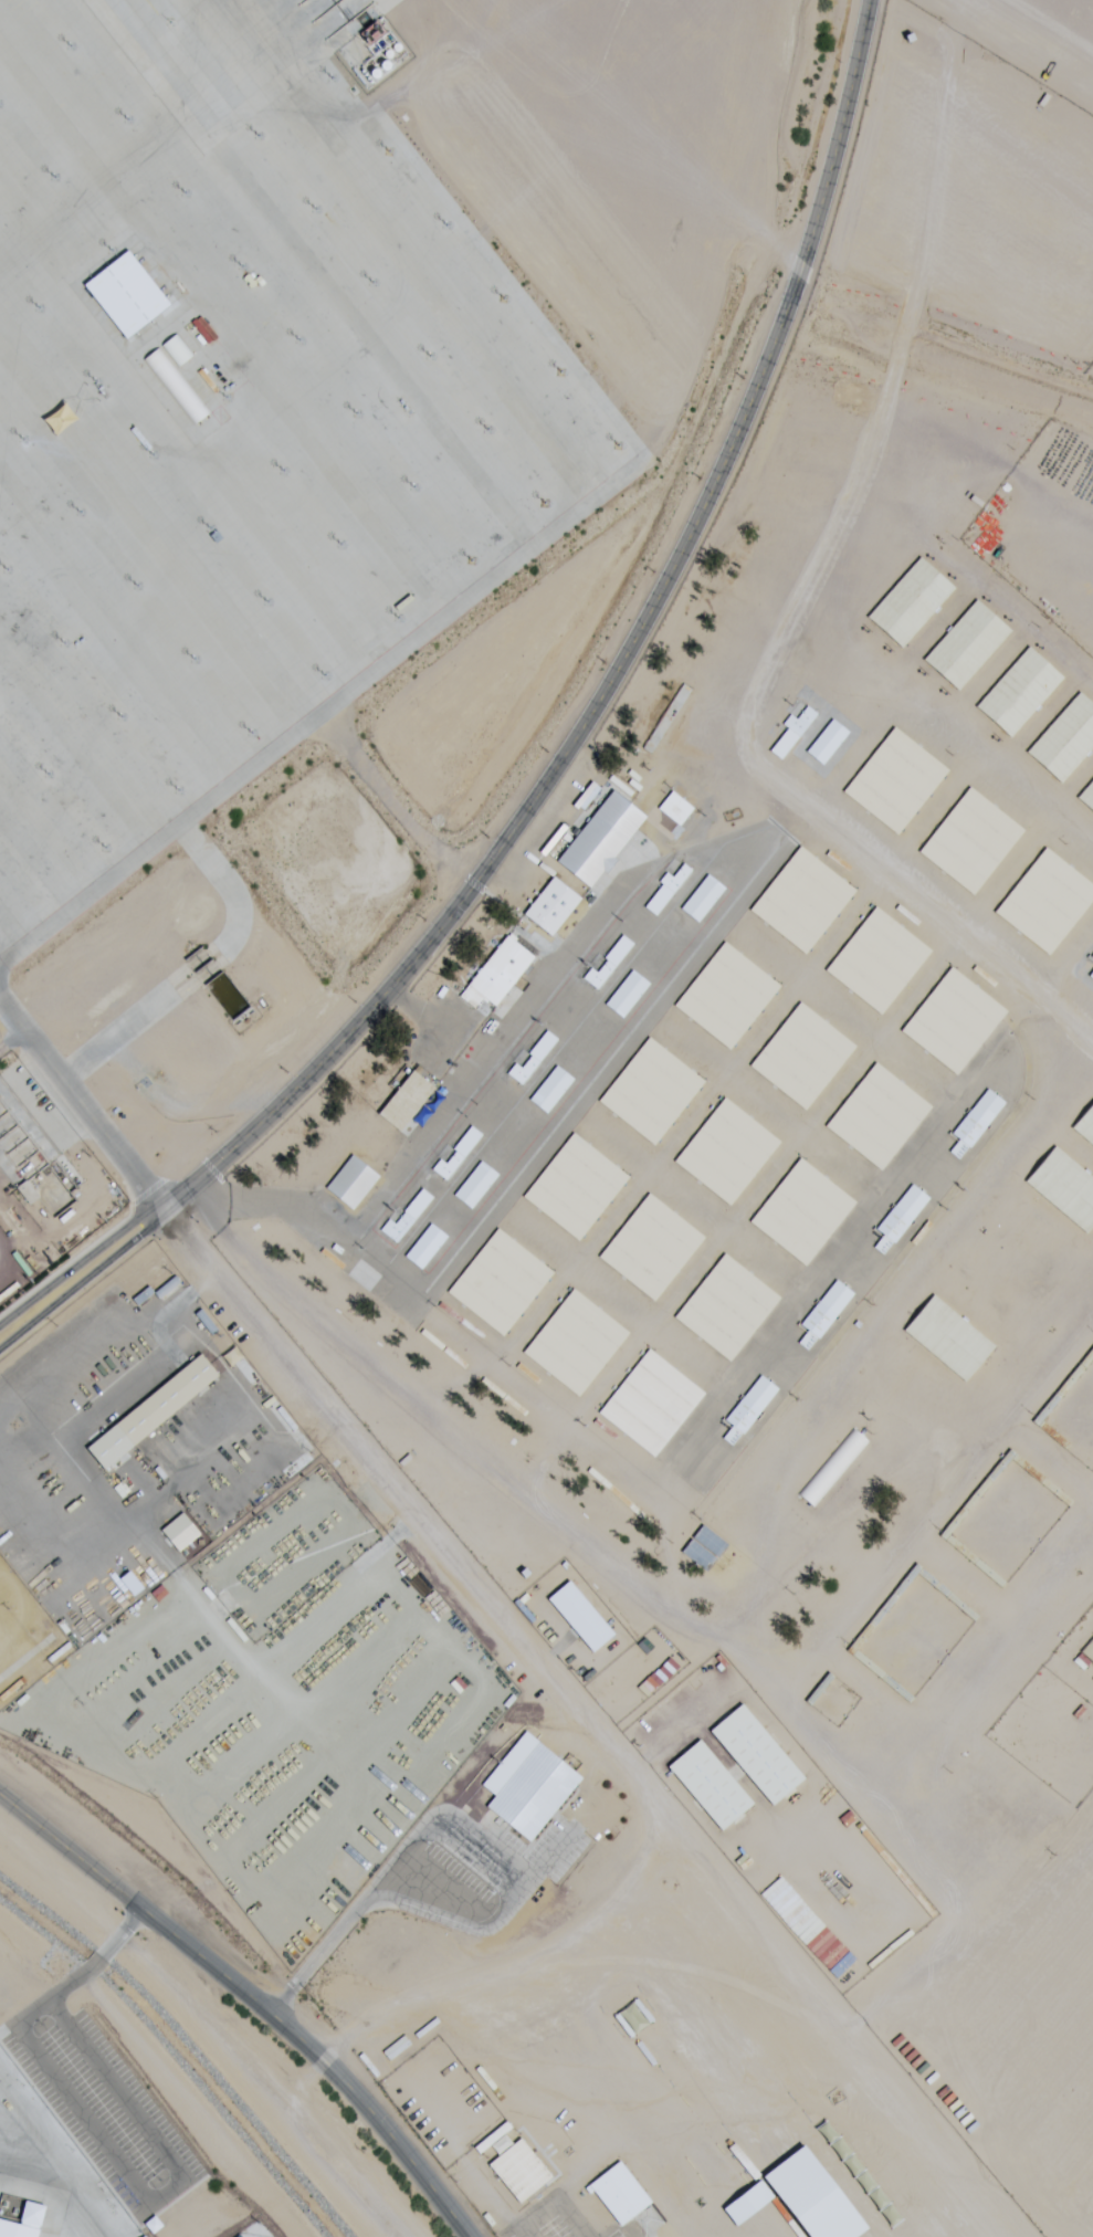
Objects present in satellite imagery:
road: (1048, 30)
road: (137, 179)
road: (407, 245)
building: (128, 296)
building: (177, 387)
building: (1055, 505)
building: (1074, 557)
building: (1090, 600)
road: (618, 669)
building: (1020, 692)
road: (298, 728)
building: (792, 733)
building: (1066, 739)
building: (829, 742)
building: (897, 781)
building: (1087, 796)
building: (603, 838)
building: (973, 841)
building: (668, 890)
building: (704, 897)
building: (803, 900)
building: (1048, 902)
building: (554, 906)
building: (1092, 958)
building: (880, 960)
building: (610, 962)
building: (498, 974)
building: (1091, 975)
building: (628, 994)
building: (727, 995)
building: (955, 1021)
building: (803, 1056)
building: (534, 1057)
building: (553, 1089)
building: (652, 1091)
building: (407, 1101)
road: (77, 1109)
building: (880, 1116)
building: (976, 1122)
building: (728, 1152)
building: (459, 1153)
building: (353, 1181)
building: (476, 1185)
building: (577, 1187)
building: (996, 1197)
building: (803, 1212)
building: (408, 1216)
building: (901, 1218)
building: (1029, 1222)
building: (427, 1246)
building: (653, 1247)
road: (75, 1265)
building: (370, 1280)
road: (81, 1282)
building: (501, 1282)
building: (922, 1291)
building: (728, 1307)
building: (826, 1313)
building: (954, 1319)
building: (577, 1343)
building: (652, 1403)
building: (749, 1409)
building: (154, 1411)
road: (464, 1450)
building: (833, 1467)
building: (181, 1532)
building: (705, 1547)
building: (221, 1574)
building: (133, 1584)
building: (582, 1617)
building: (873, 1625)
building: (631, 1672)
building: (759, 1755)
building: (712, 1785)
building: (530, 1786)
road: (76, 1976)
road: (246, 2003)
building: (599, 2066)
road: (255, 2081)
building: (429, 2107)
parking lot: (105, 2108)
building: (492, 2140)
building: (521, 2172)
road: (159, 2196)
building: (815, 2197)
building: (626, 2199)
building: (750, 2204)
building: (596, 2220)
building: (30, 2224)

